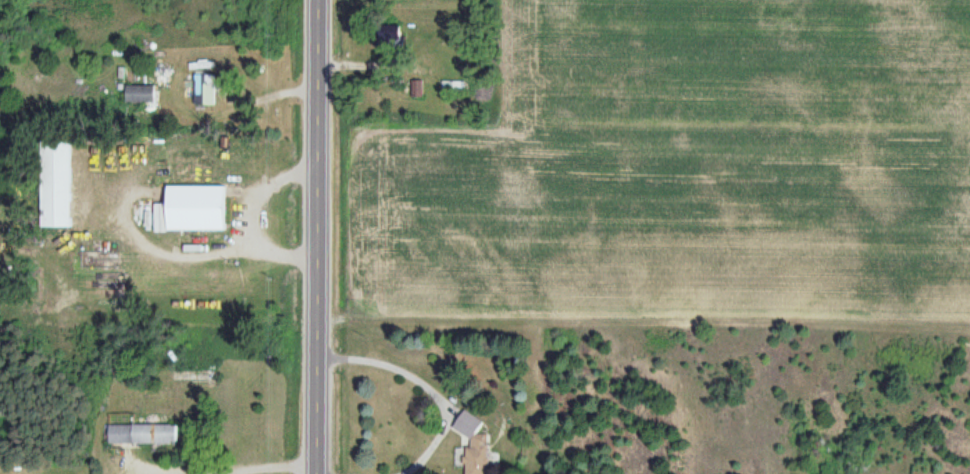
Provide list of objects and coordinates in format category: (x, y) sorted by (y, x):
building: (204, 86)
building: (452, 88)
building: (139, 94)
building: (59, 184)
building: (197, 208)
road: (314, 237)
building: (143, 434)
building: (477, 454)

